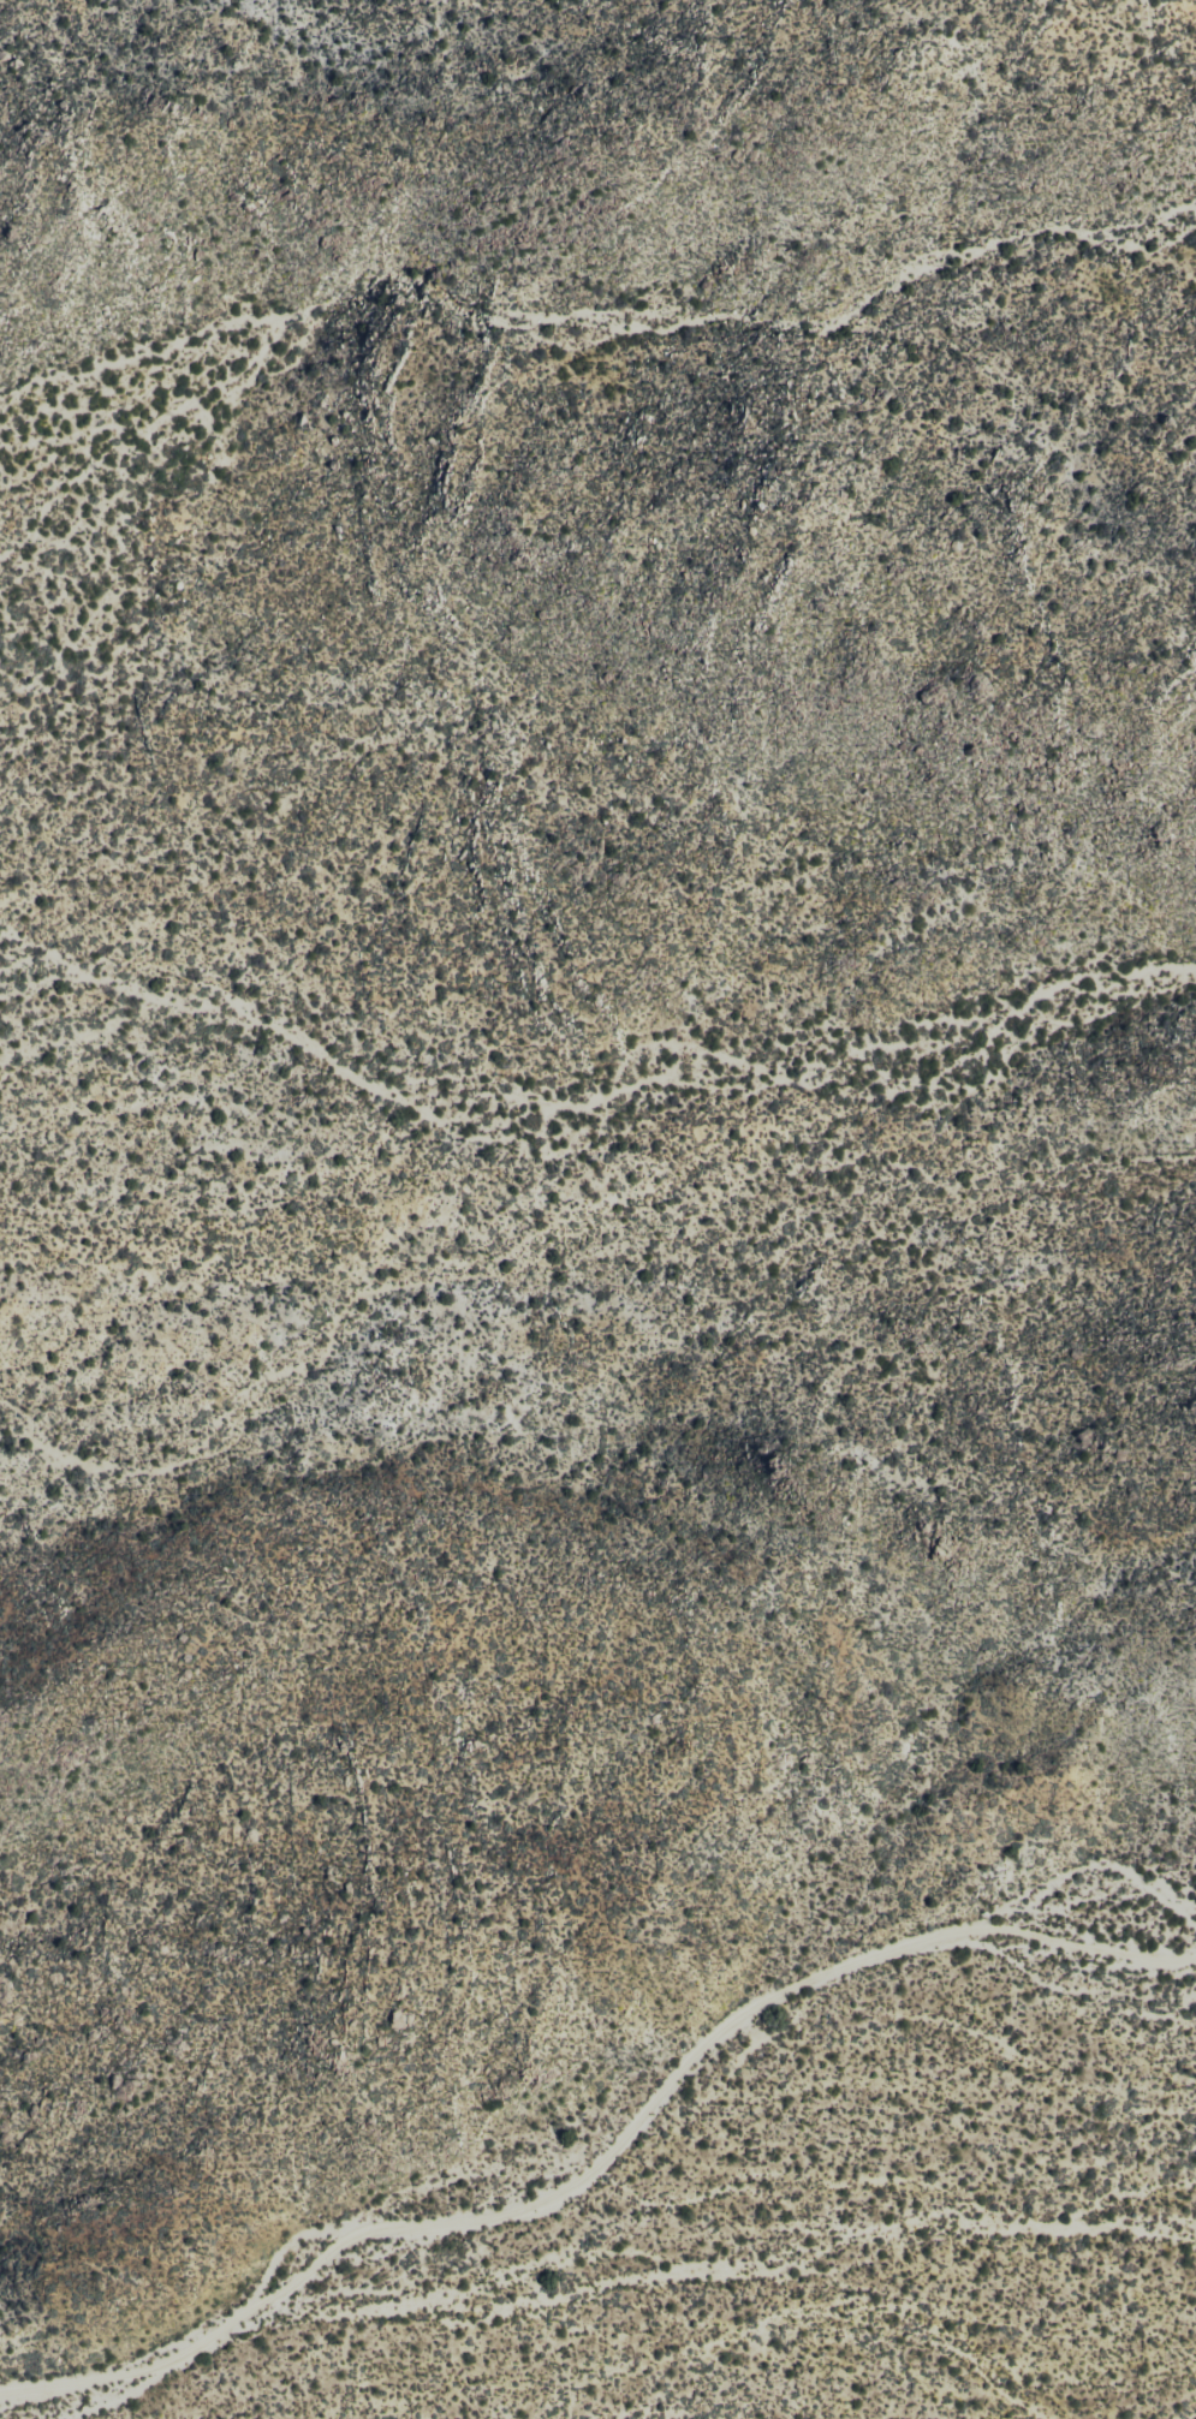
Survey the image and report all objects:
road: (606, 2153)

